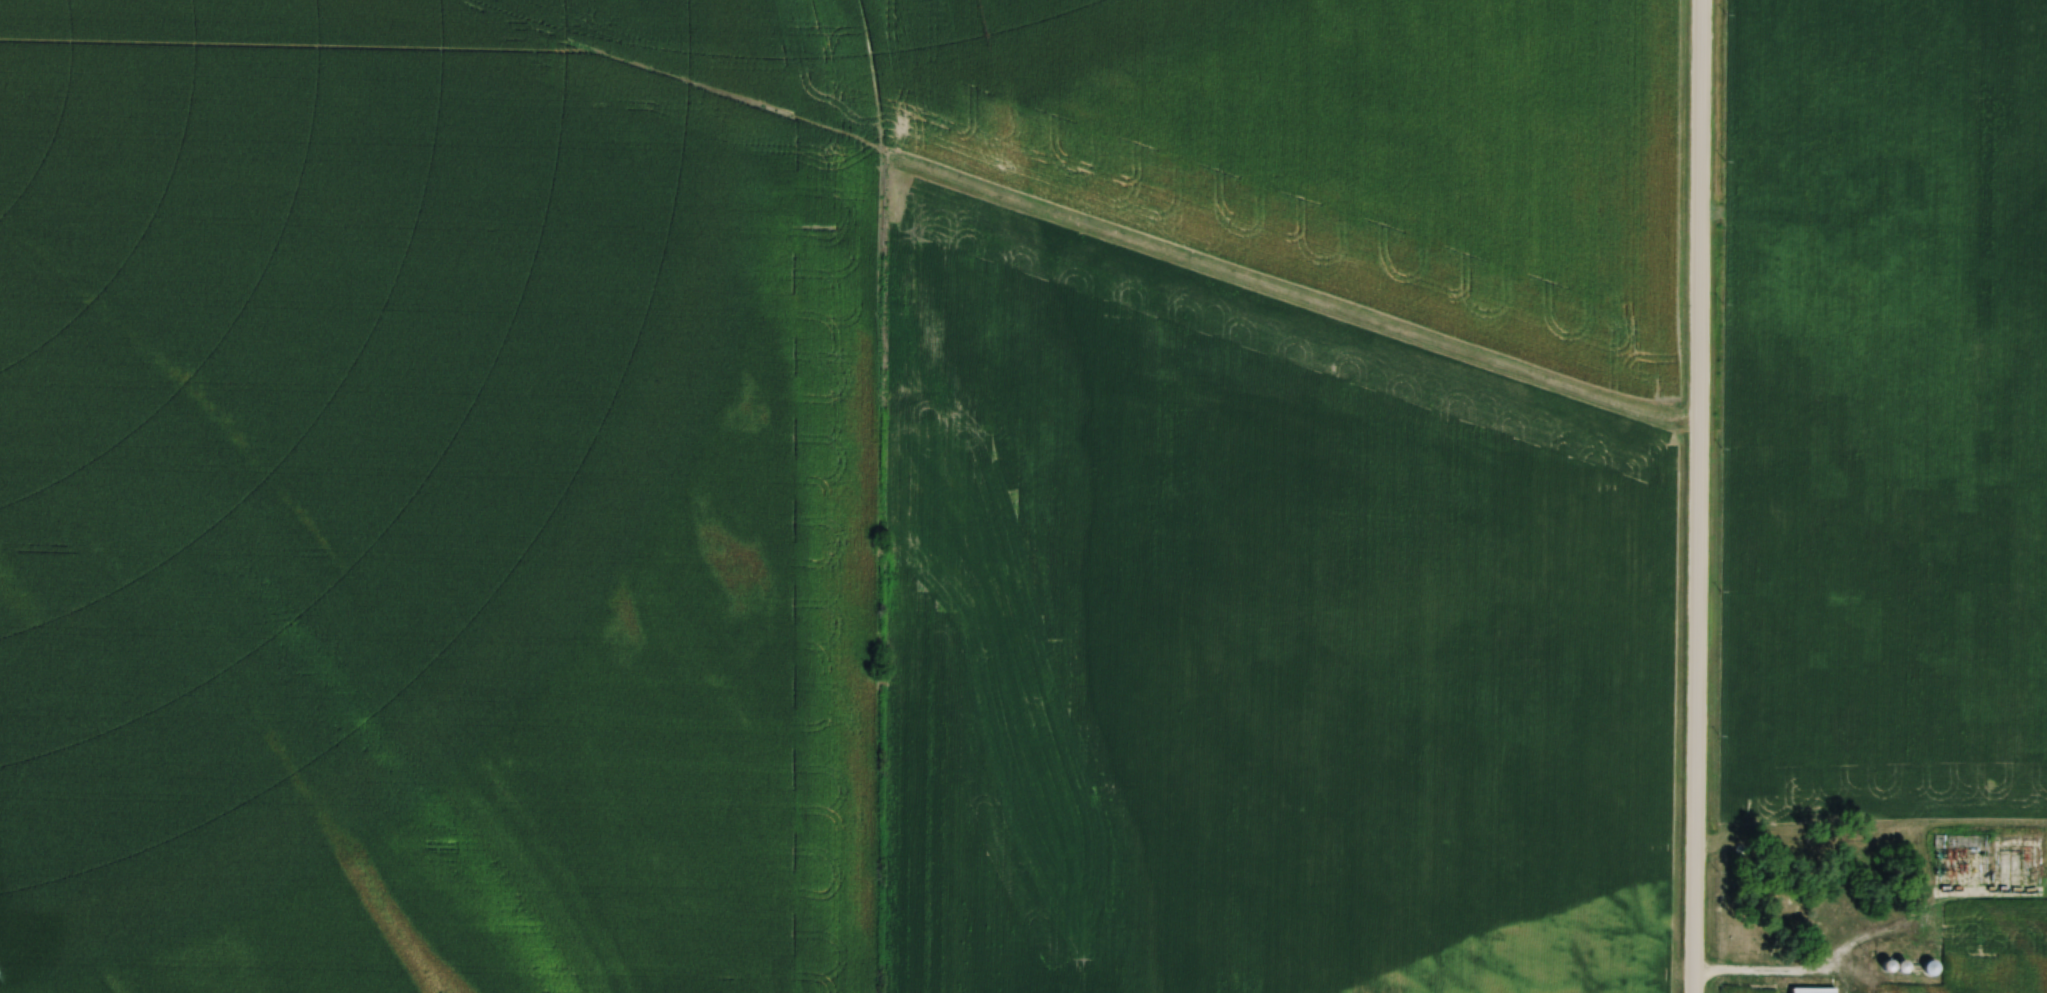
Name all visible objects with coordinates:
road: (1704, 496)
building: (1957, 837)
building: (1926, 962)
building: (1806, 987)

